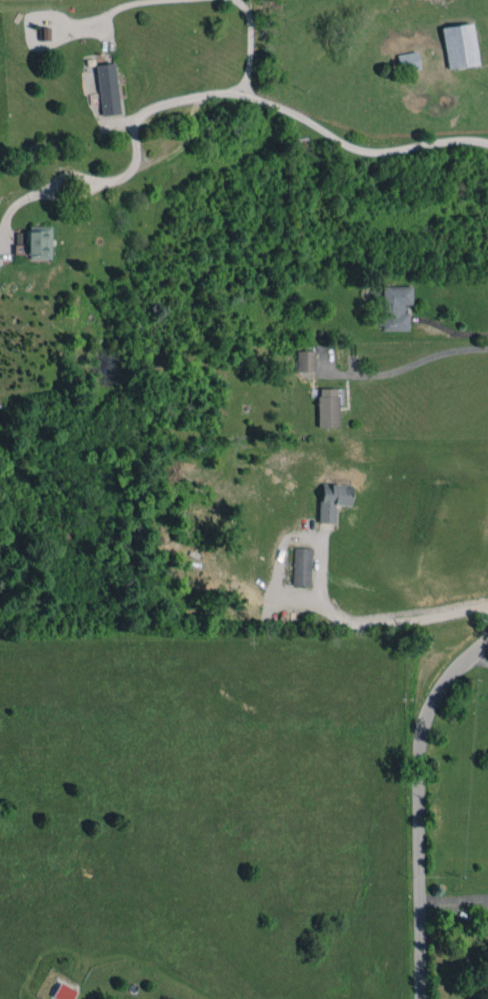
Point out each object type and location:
road: (111, 11)
road: (249, 45)
building: (459, 45)
building: (408, 61)
building: (107, 88)
road: (310, 121)
road: (84, 193)
building: (38, 242)
building: (394, 306)
road: (460, 333)
building: (305, 360)
road: (406, 365)
building: (327, 406)
building: (332, 500)
building: (300, 565)
road: (371, 620)
road: (481, 658)
road: (420, 810)
road: (453, 898)
building: (63, 992)

